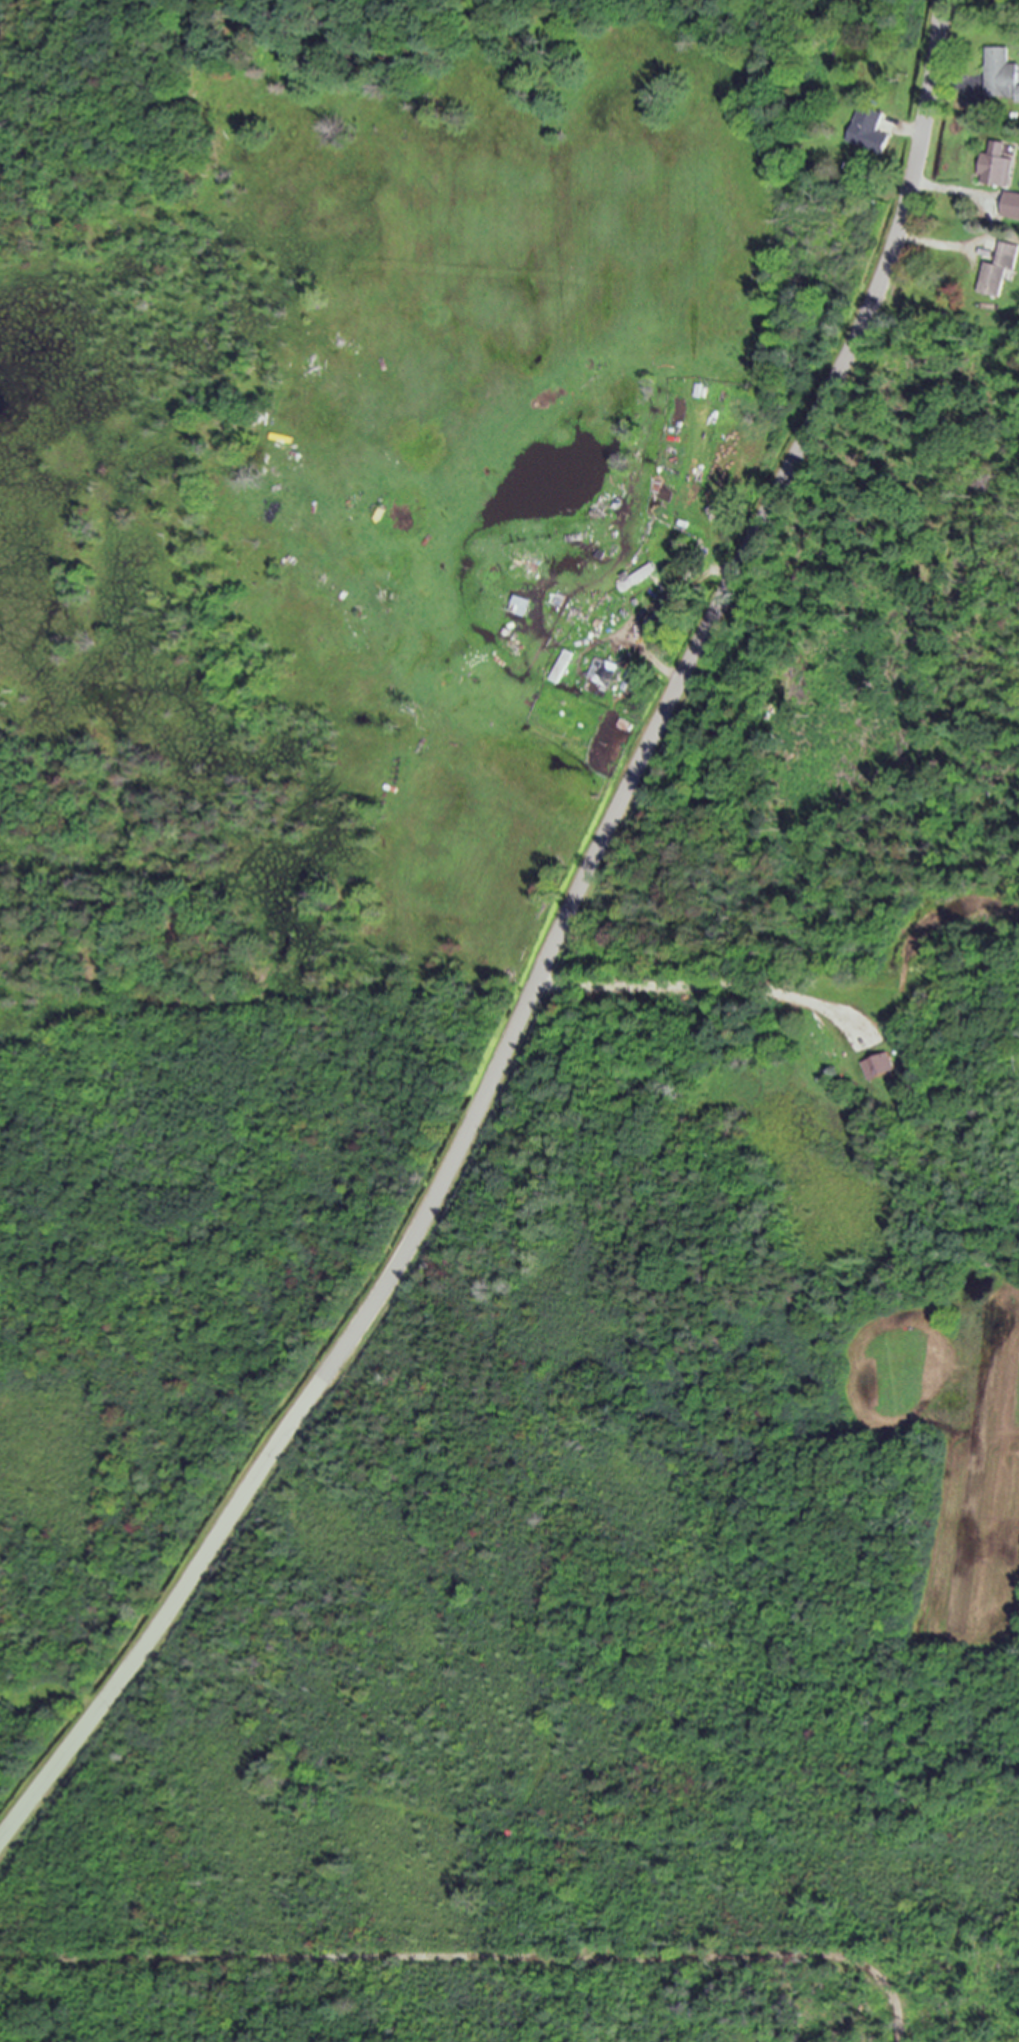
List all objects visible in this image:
building: (1000, 75)
building: (867, 132)
building: (994, 166)
building: (638, 576)
building: (520, 605)
building: (603, 671)
road: (548, 952)
building: (879, 1066)
road: (478, 1955)

